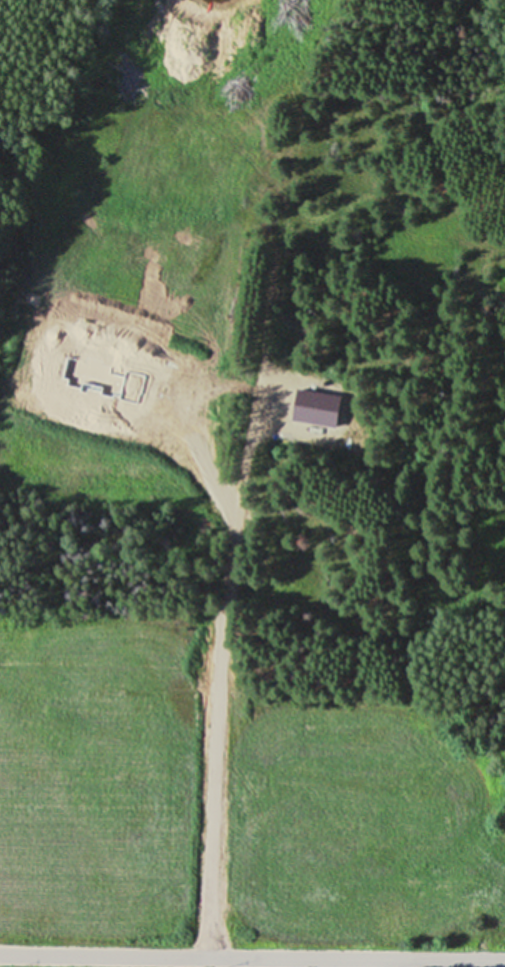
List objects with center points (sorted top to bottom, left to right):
road: (252, 957)

